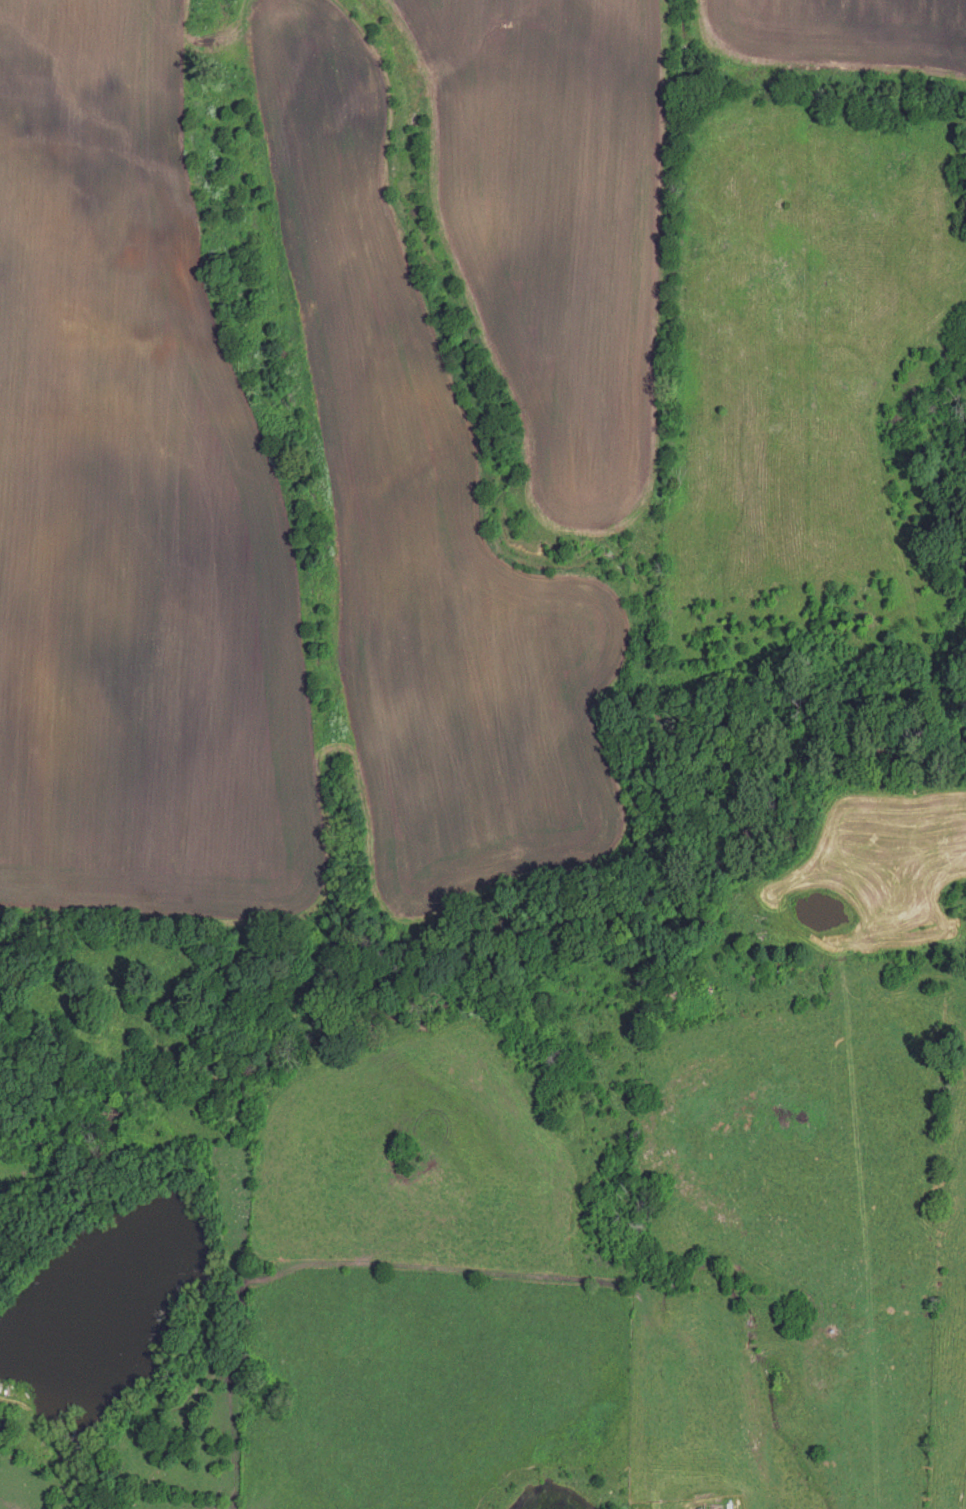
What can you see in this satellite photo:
building: (708, 1507)

